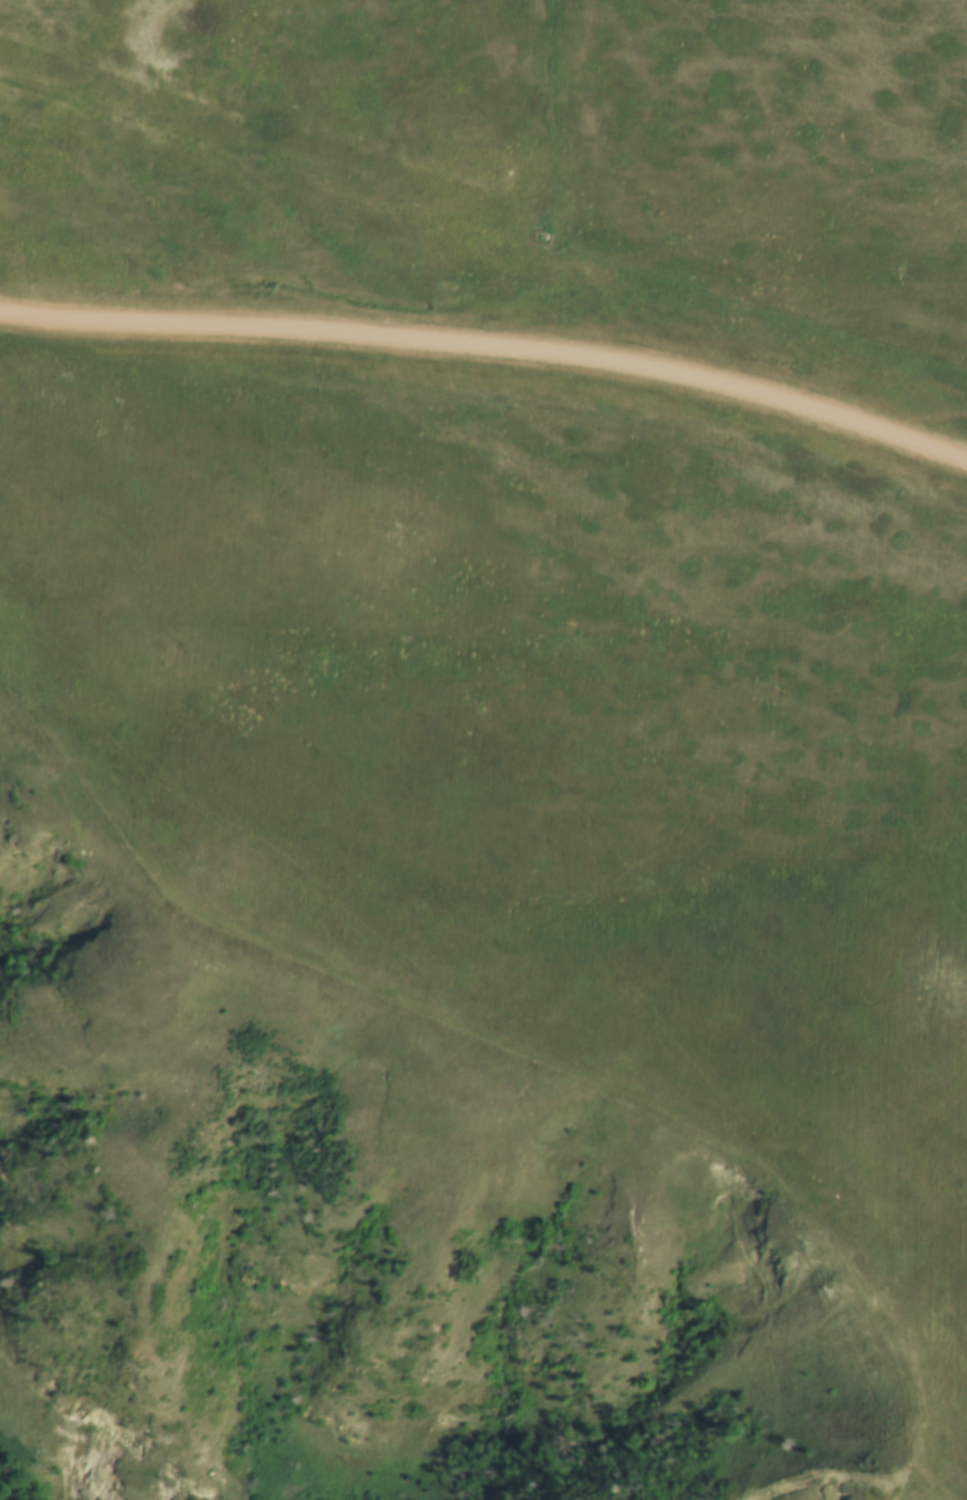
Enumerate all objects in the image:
road: (490, 344)

